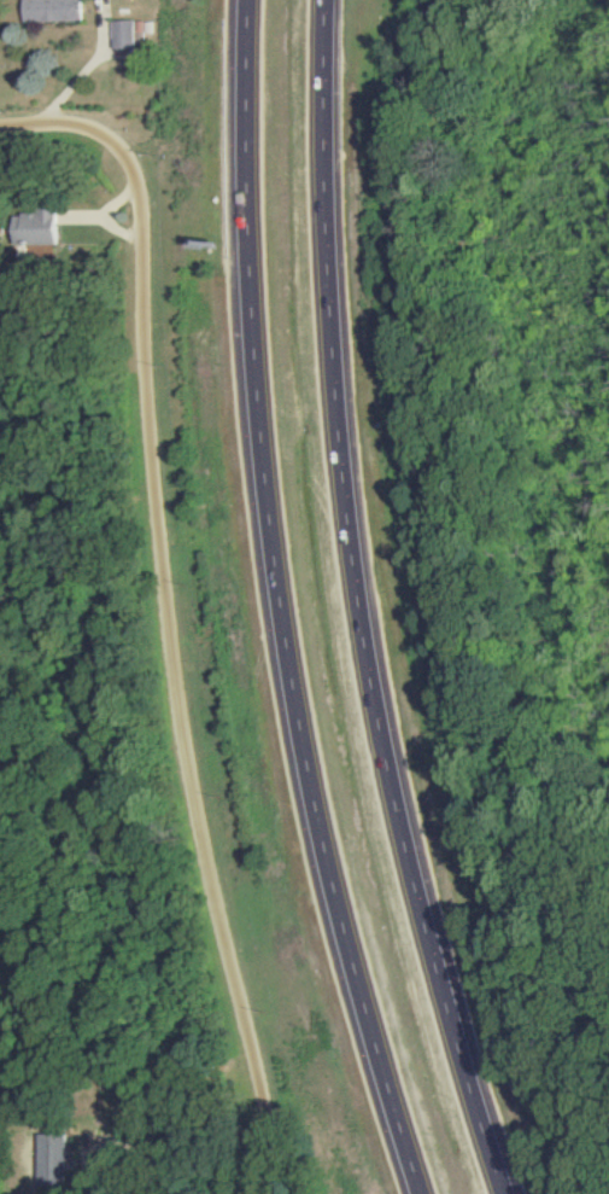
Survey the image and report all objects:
building: (53, 10)
building: (122, 34)
road: (6, 132)
road: (80, 216)
road: (96, 216)
building: (36, 227)
road: (275, 604)
road: (353, 605)
road: (162, 619)
road: (152, 1155)
building: (52, 1160)
road: (252, 1177)

